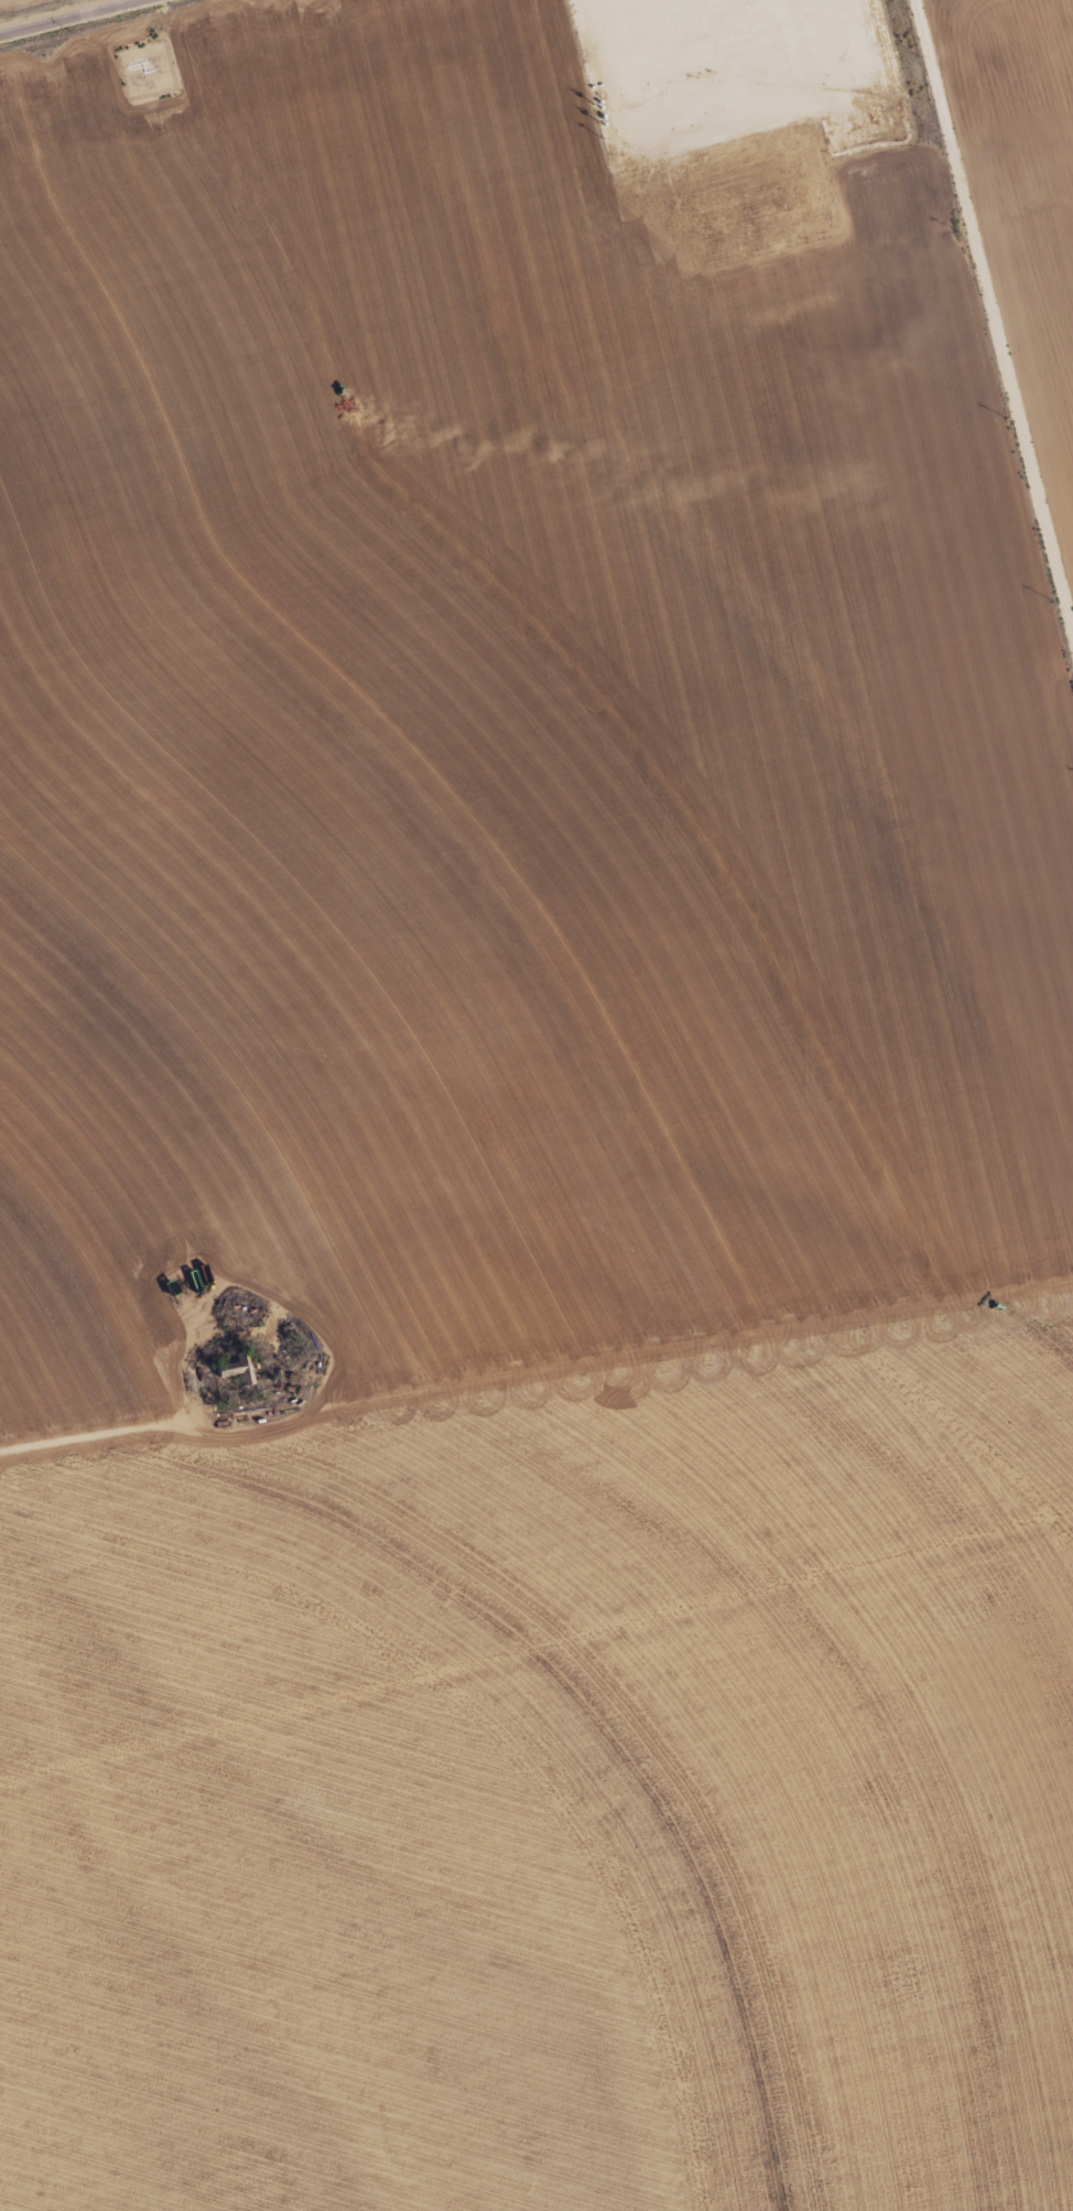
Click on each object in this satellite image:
road: (69, 17)
road: (1007, 360)
building: (565, 1148)
building: (236, 1369)

